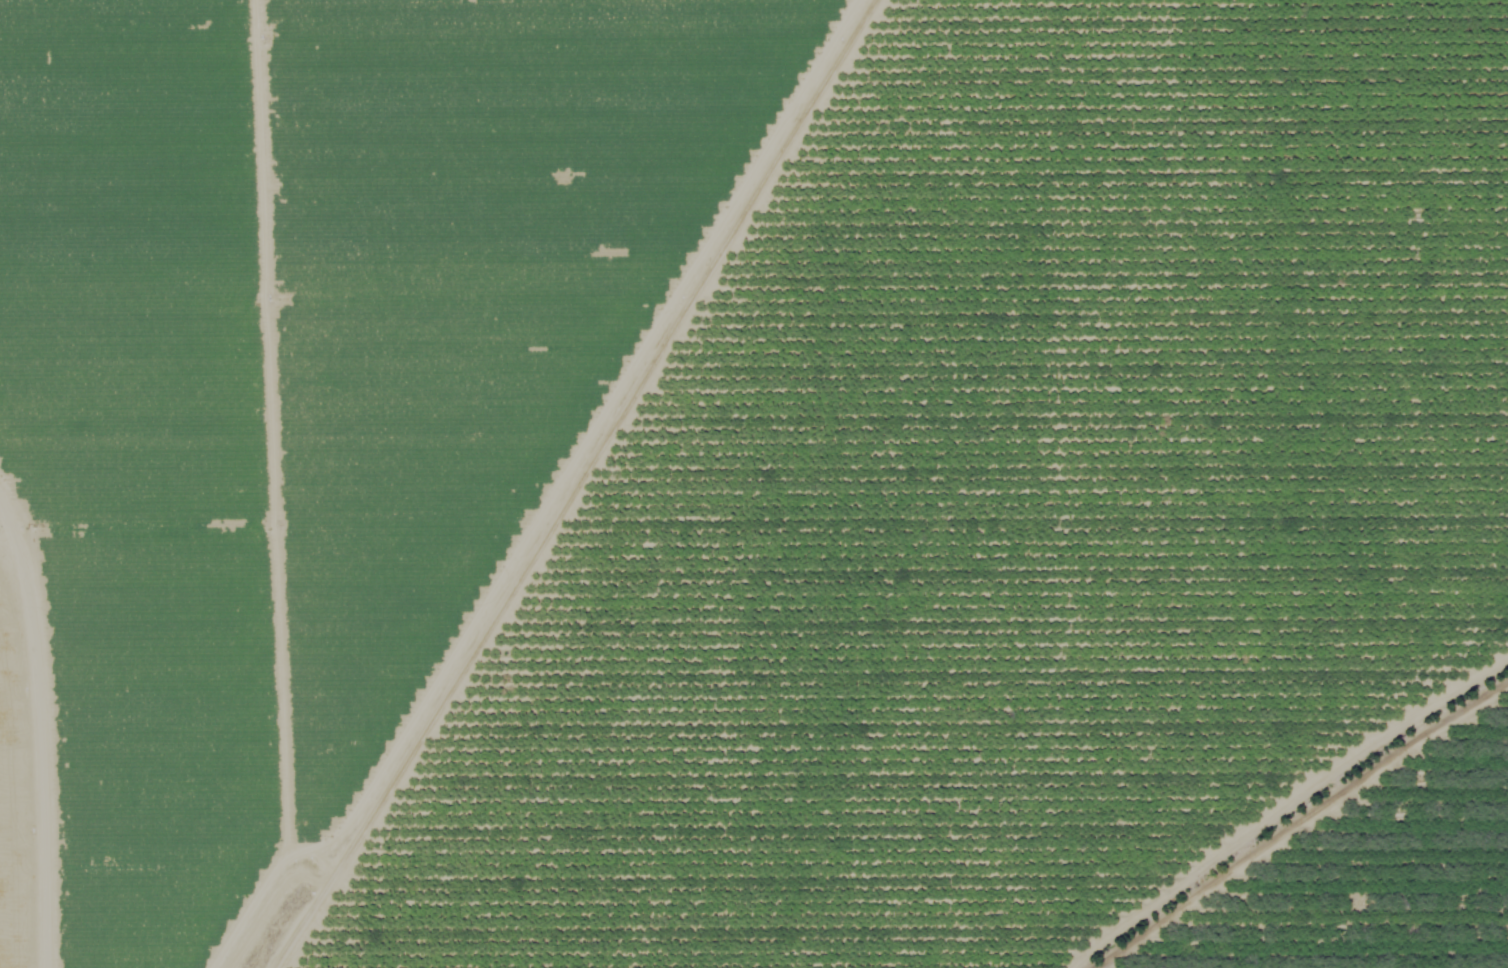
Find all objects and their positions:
crop: (315, 401)
road: (608, 420)

